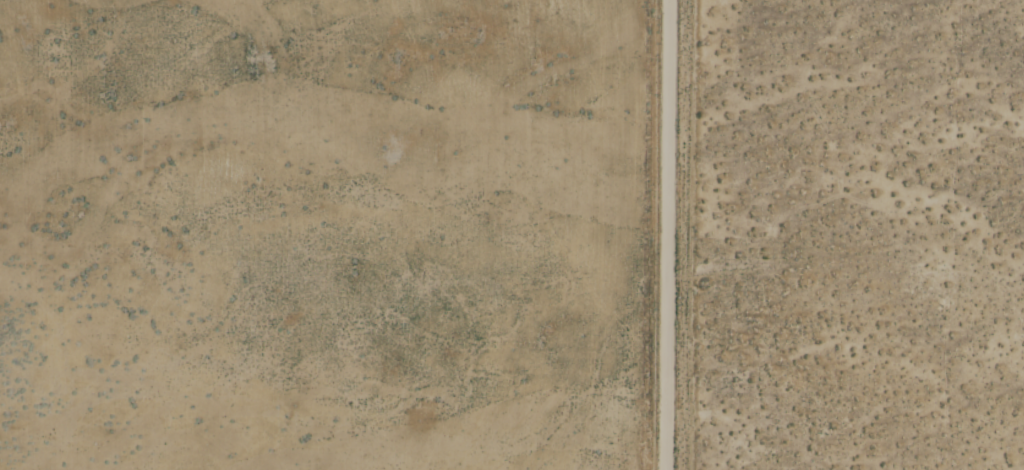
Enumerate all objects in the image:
road: (658, 234)

